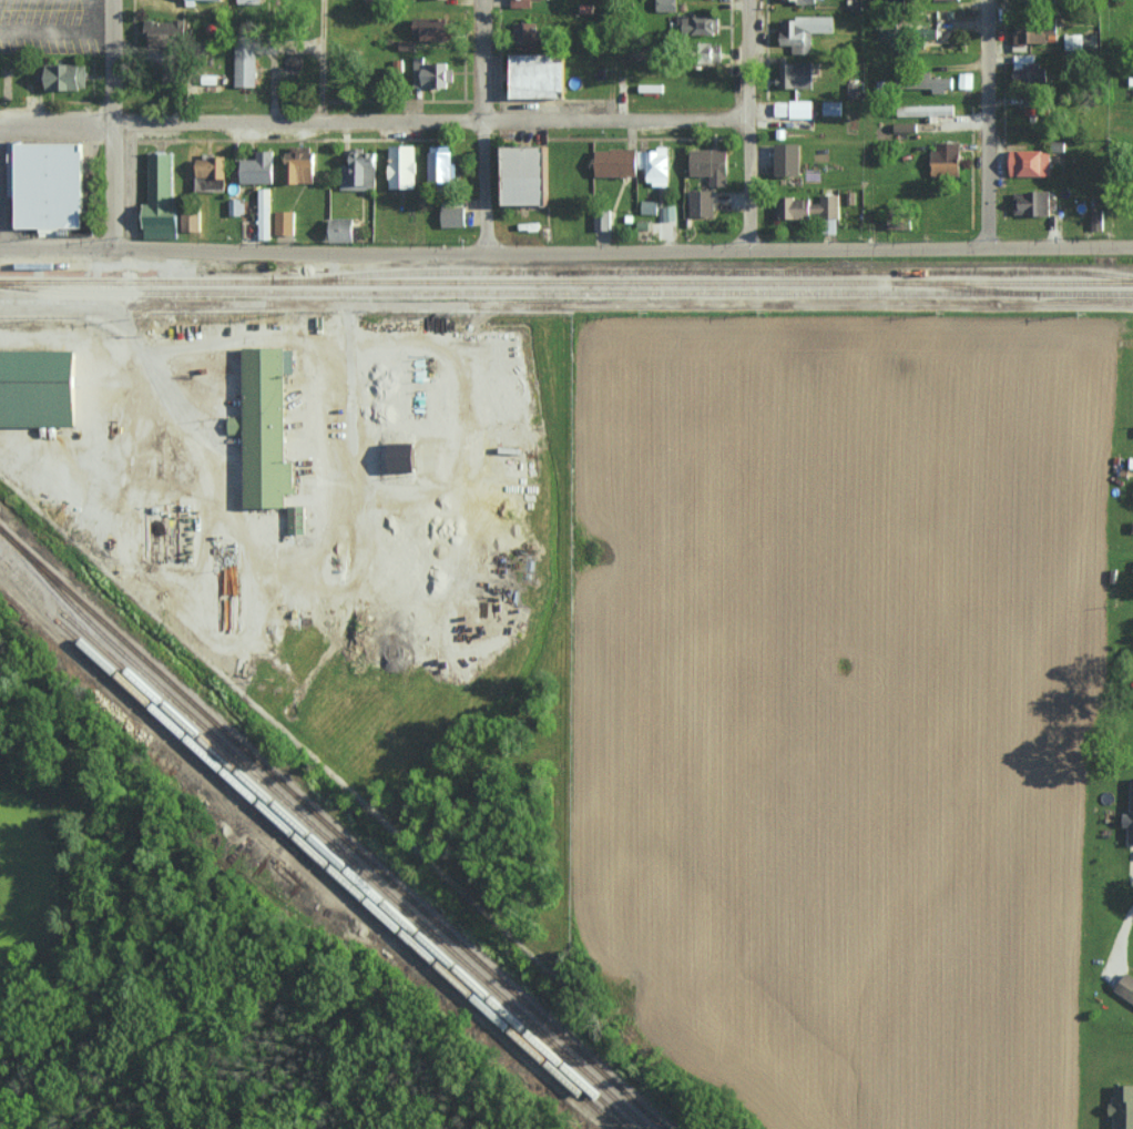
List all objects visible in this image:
building: (376, 0)
building: (797, 0)
building: (941, 0)
building: (1027, 0)
building: (248, 1)
building: (191, 2)
building: (521, 2)
building: (666, 4)
building: (697, 23)
parking lot: (47, 26)
building: (433, 29)
building: (804, 31)
building: (1031, 31)
building: (166, 33)
building: (529, 35)
building: (895, 37)
building: (1073, 41)
road: (319, 60)
building: (245, 64)
building: (1030, 71)
building: (172, 72)
building: (430, 73)
building: (539, 74)
building: (796, 74)
building: (63, 75)
building: (966, 80)
building: (1131, 80)
building: (939, 83)
building: (831, 106)
building: (794, 108)
building: (929, 110)
road: (372, 120)
road: (114, 123)
road: (747, 123)
road: (870, 123)
road: (984, 123)
road: (480, 126)
building: (947, 157)
building: (789, 159)
building: (1030, 162)
building: (300, 163)
building: (441, 163)
building: (634, 163)
road: (1, 164)
building: (711, 164)
building: (404, 165)
building: (258, 167)
building: (359, 170)
building: (212, 171)
building: (529, 174)
building: (52, 187)
road: (4, 191)
building: (161, 197)
building: (702, 202)
building: (1031, 203)
building: (236, 206)
building: (809, 206)
building: (649, 207)
building: (668, 212)
building: (265, 213)
road: (3, 214)
building: (453, 216)
building: (602, 218)
building: (1096, 218)
building: (191, 221)
building: (284, 222)
building: (829, 224)
building: (343, 228)
road: (565, 251)
railway: (776, 274)
railway: (565, 285)
railway: (565, 296)
building: (39, 388)
building: (267, 429)
building: (404, 456)
building: (1131, 462)
building: (296, 519)
building: (1132, 526)
building: (1130, 816)
railway: (334, 824)
railway: (325, 834)
railway: (314, 838)
railway: (307, 846)
building: (1125, 987)
building: (1123, 1106)

